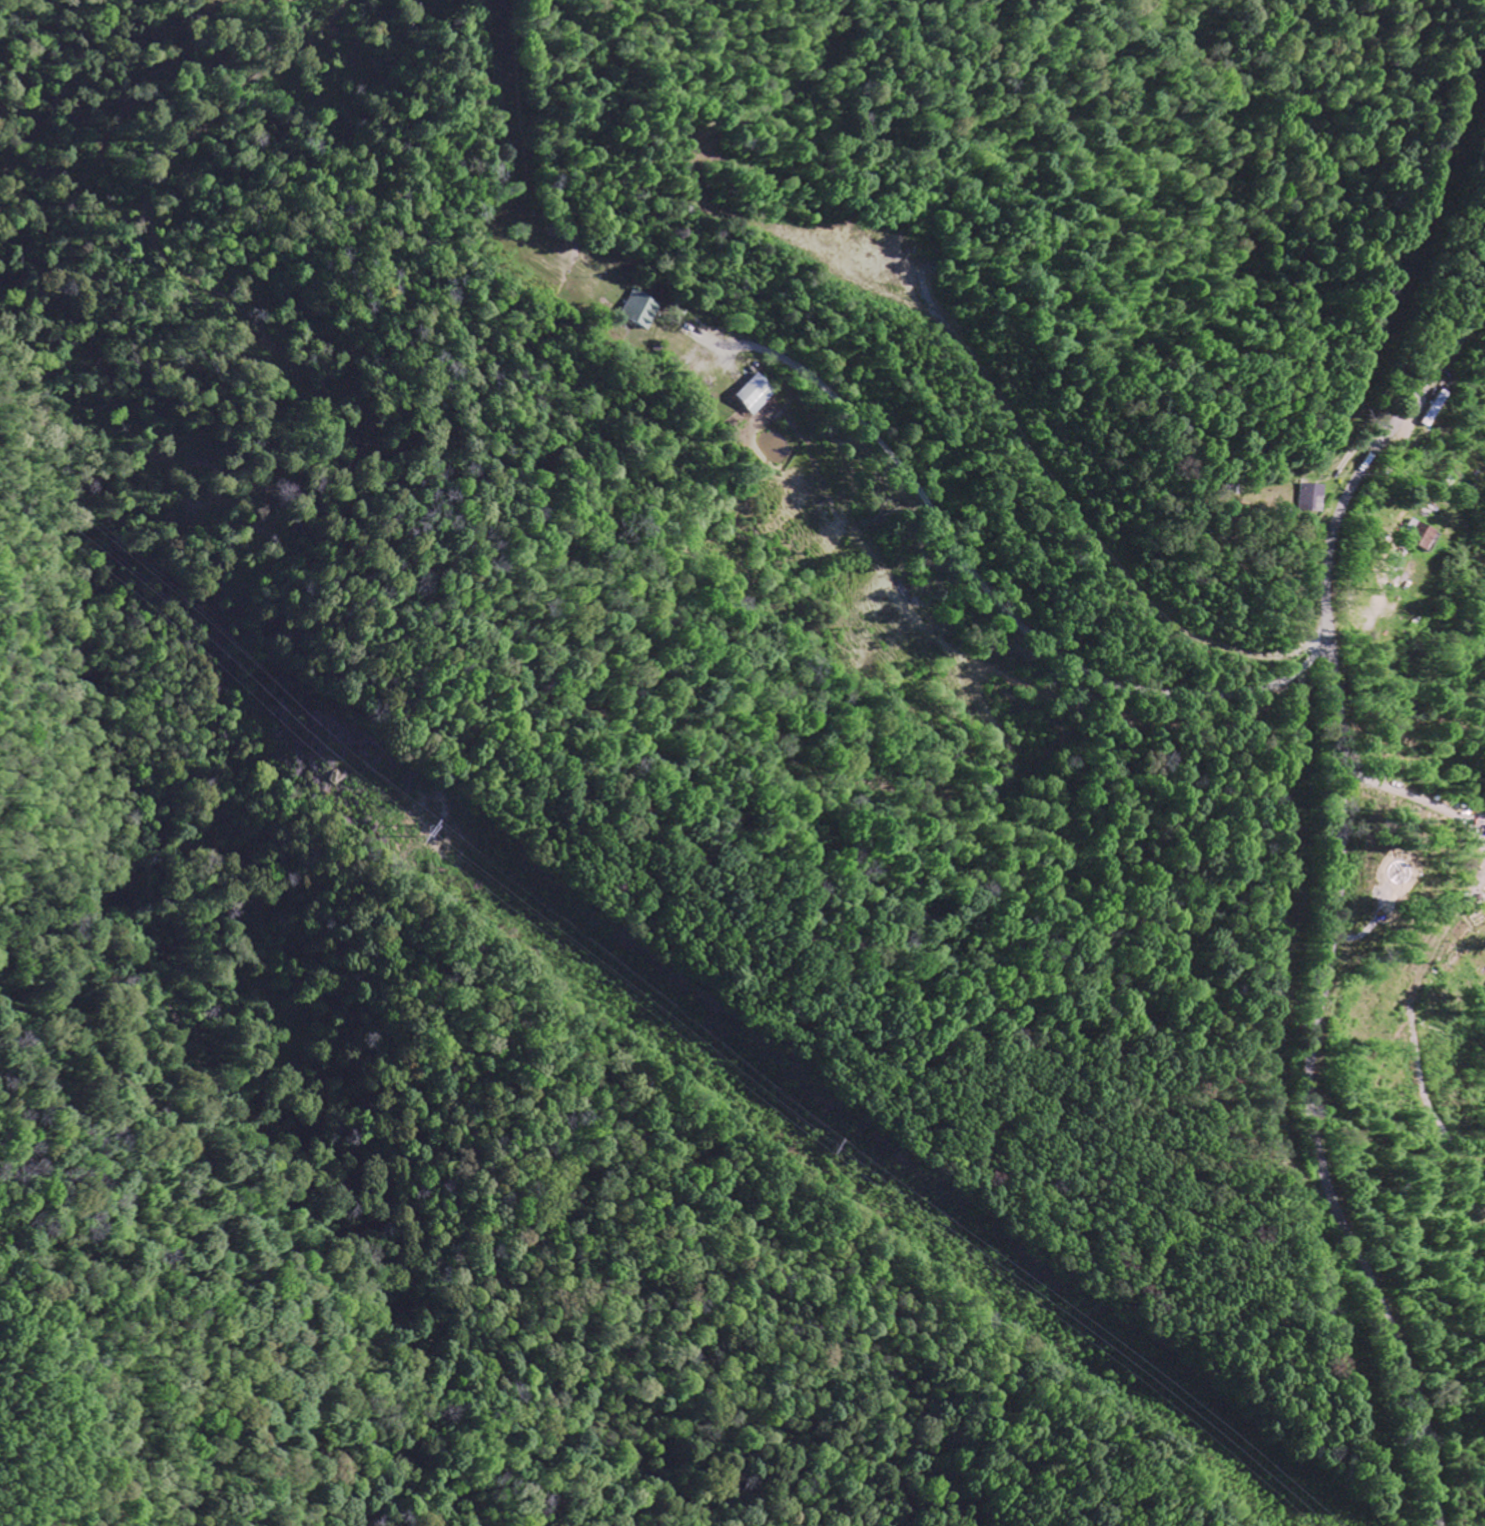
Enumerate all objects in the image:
building: (638, 312)
building: (751, 396)
building: (1426, 540)
road: (992, 590)
power tower: (422, 831)
road: (1335, 907)
power tower: (836, 1150)

